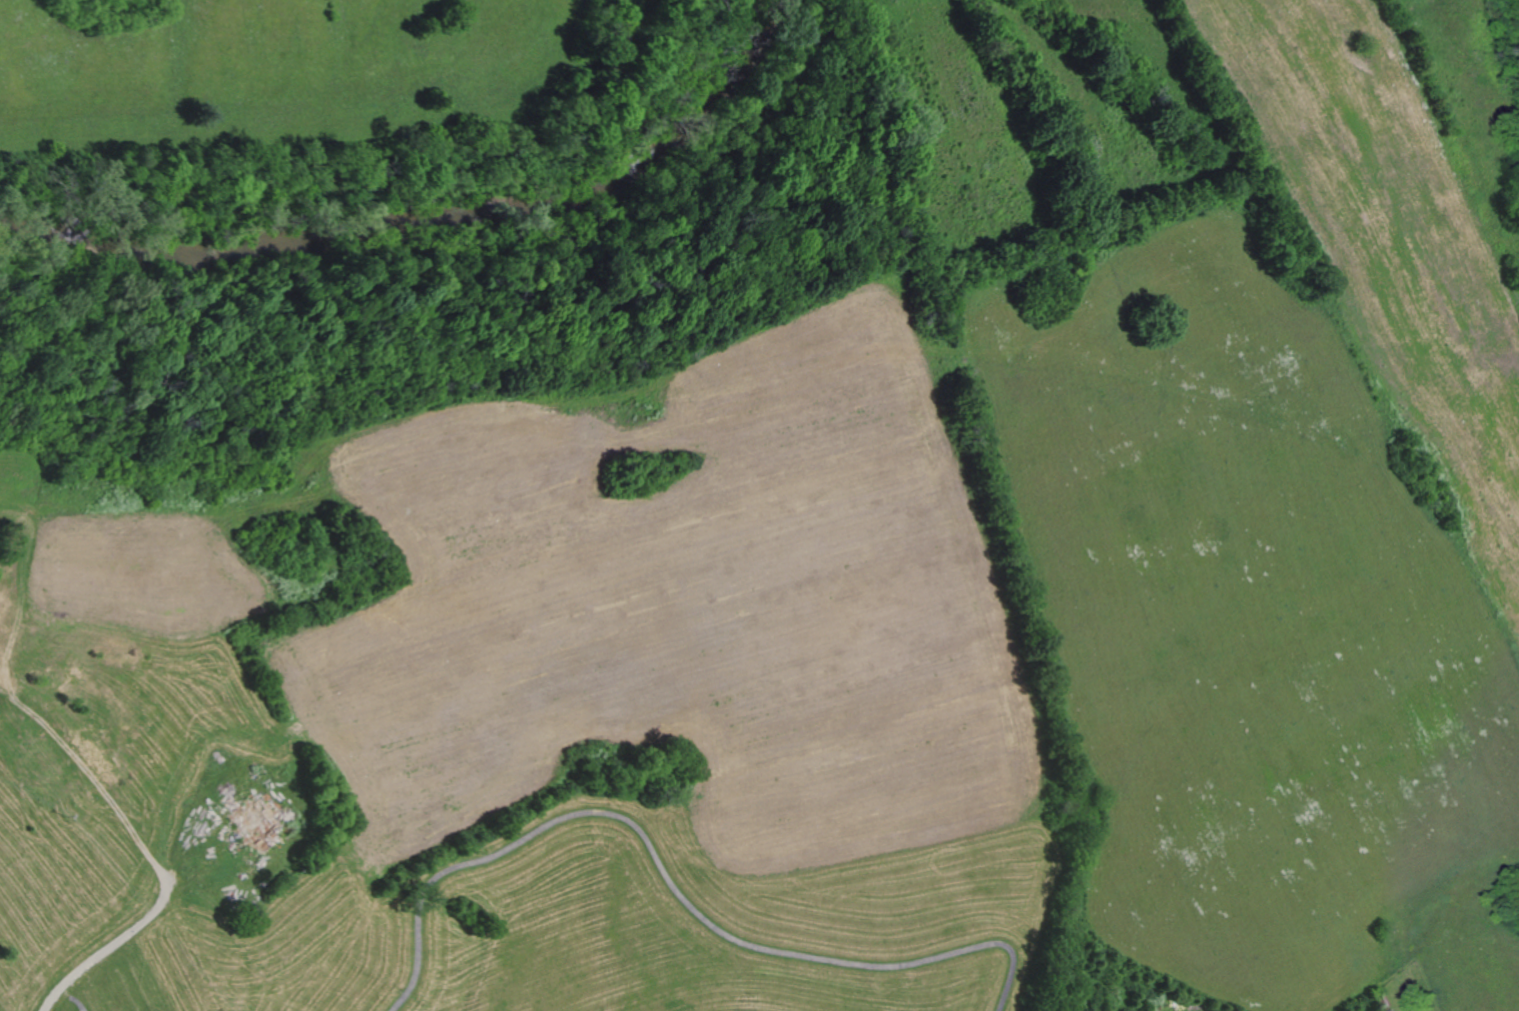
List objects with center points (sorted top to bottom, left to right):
road: (90, 772)
building: (262, 813)
road: (673, 881)
road: (113, 945)
road: (77, 995)
road: (84, 1009)

